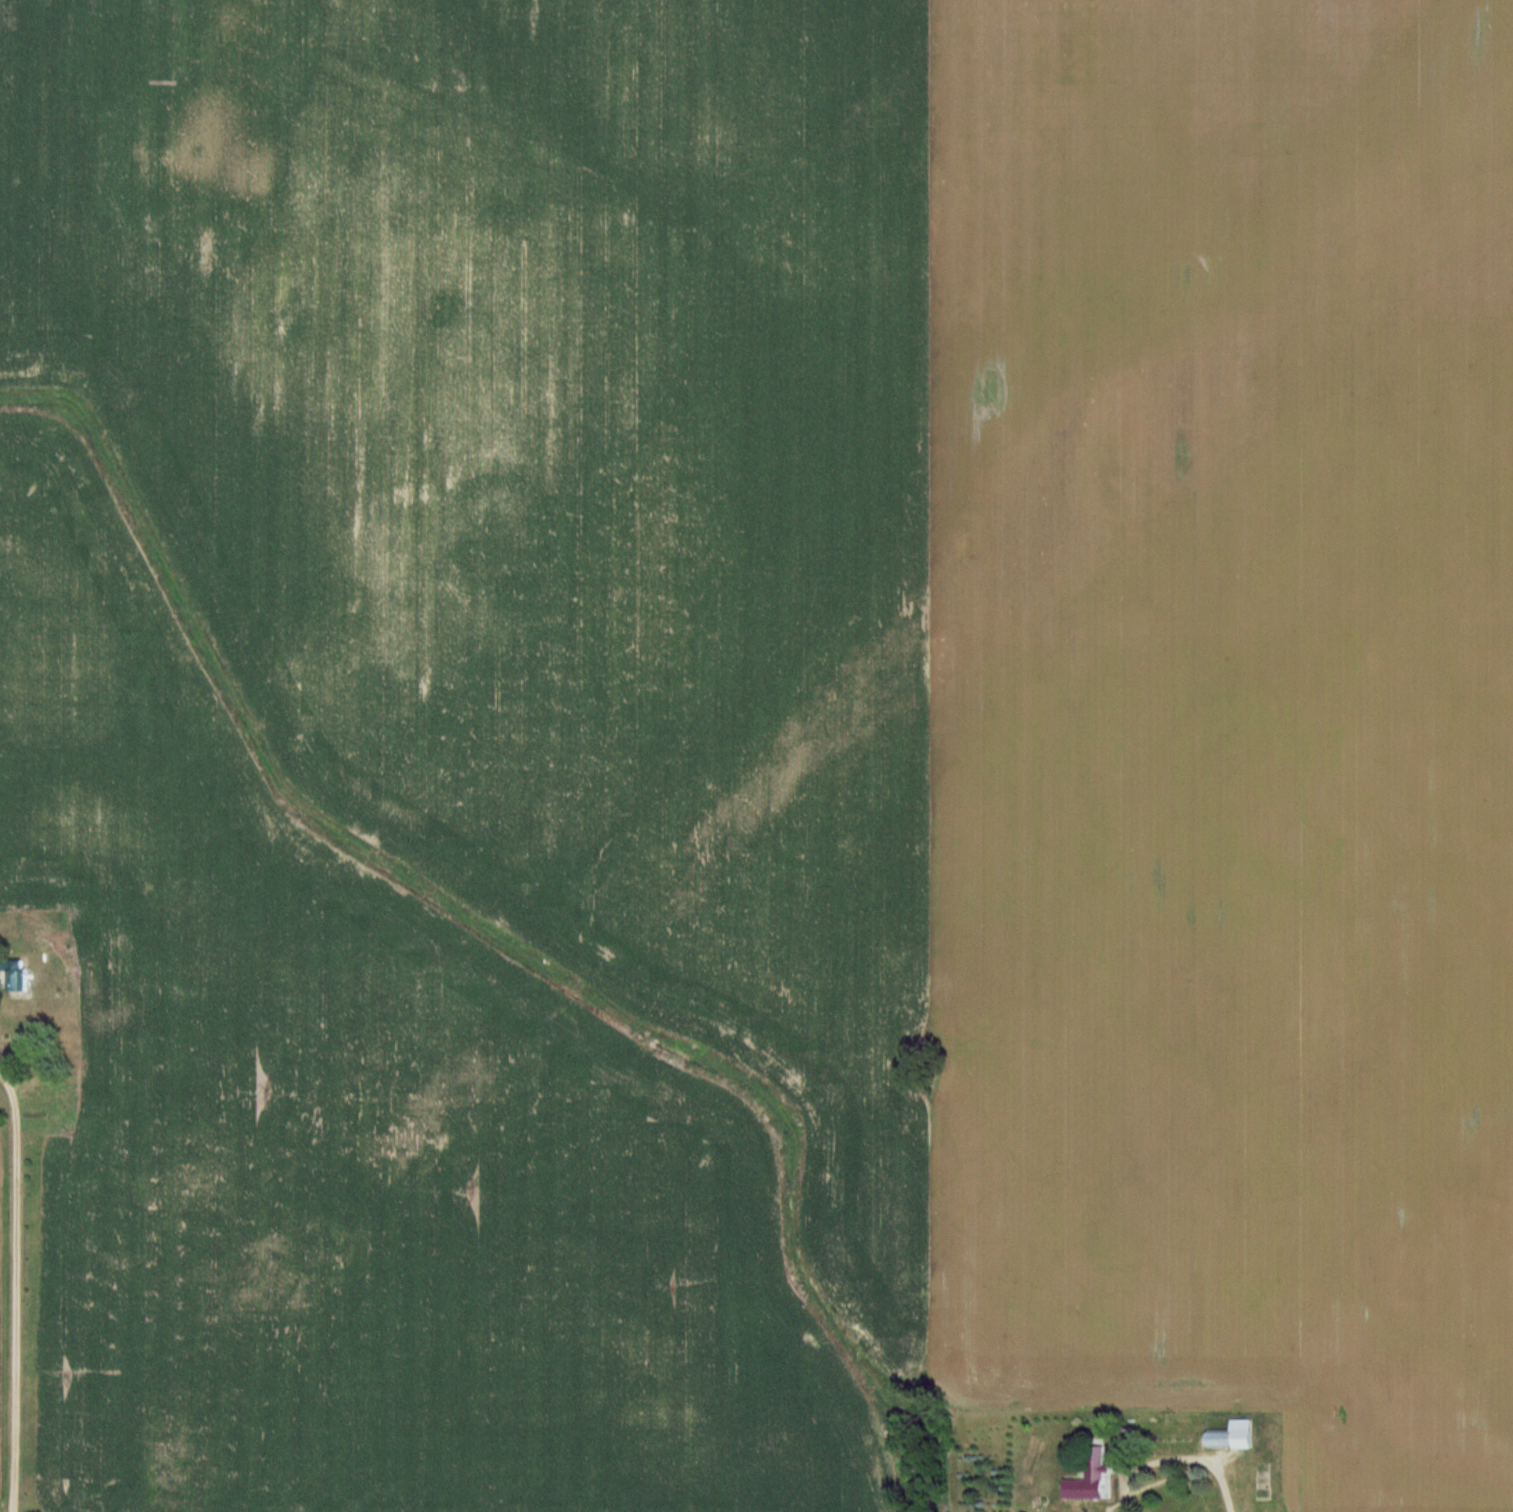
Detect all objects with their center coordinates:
building: (20, 974)
road: (13, 1295)
building: (1231, 1439)
road: (1176, 1460)
building: (1092, 1477)

